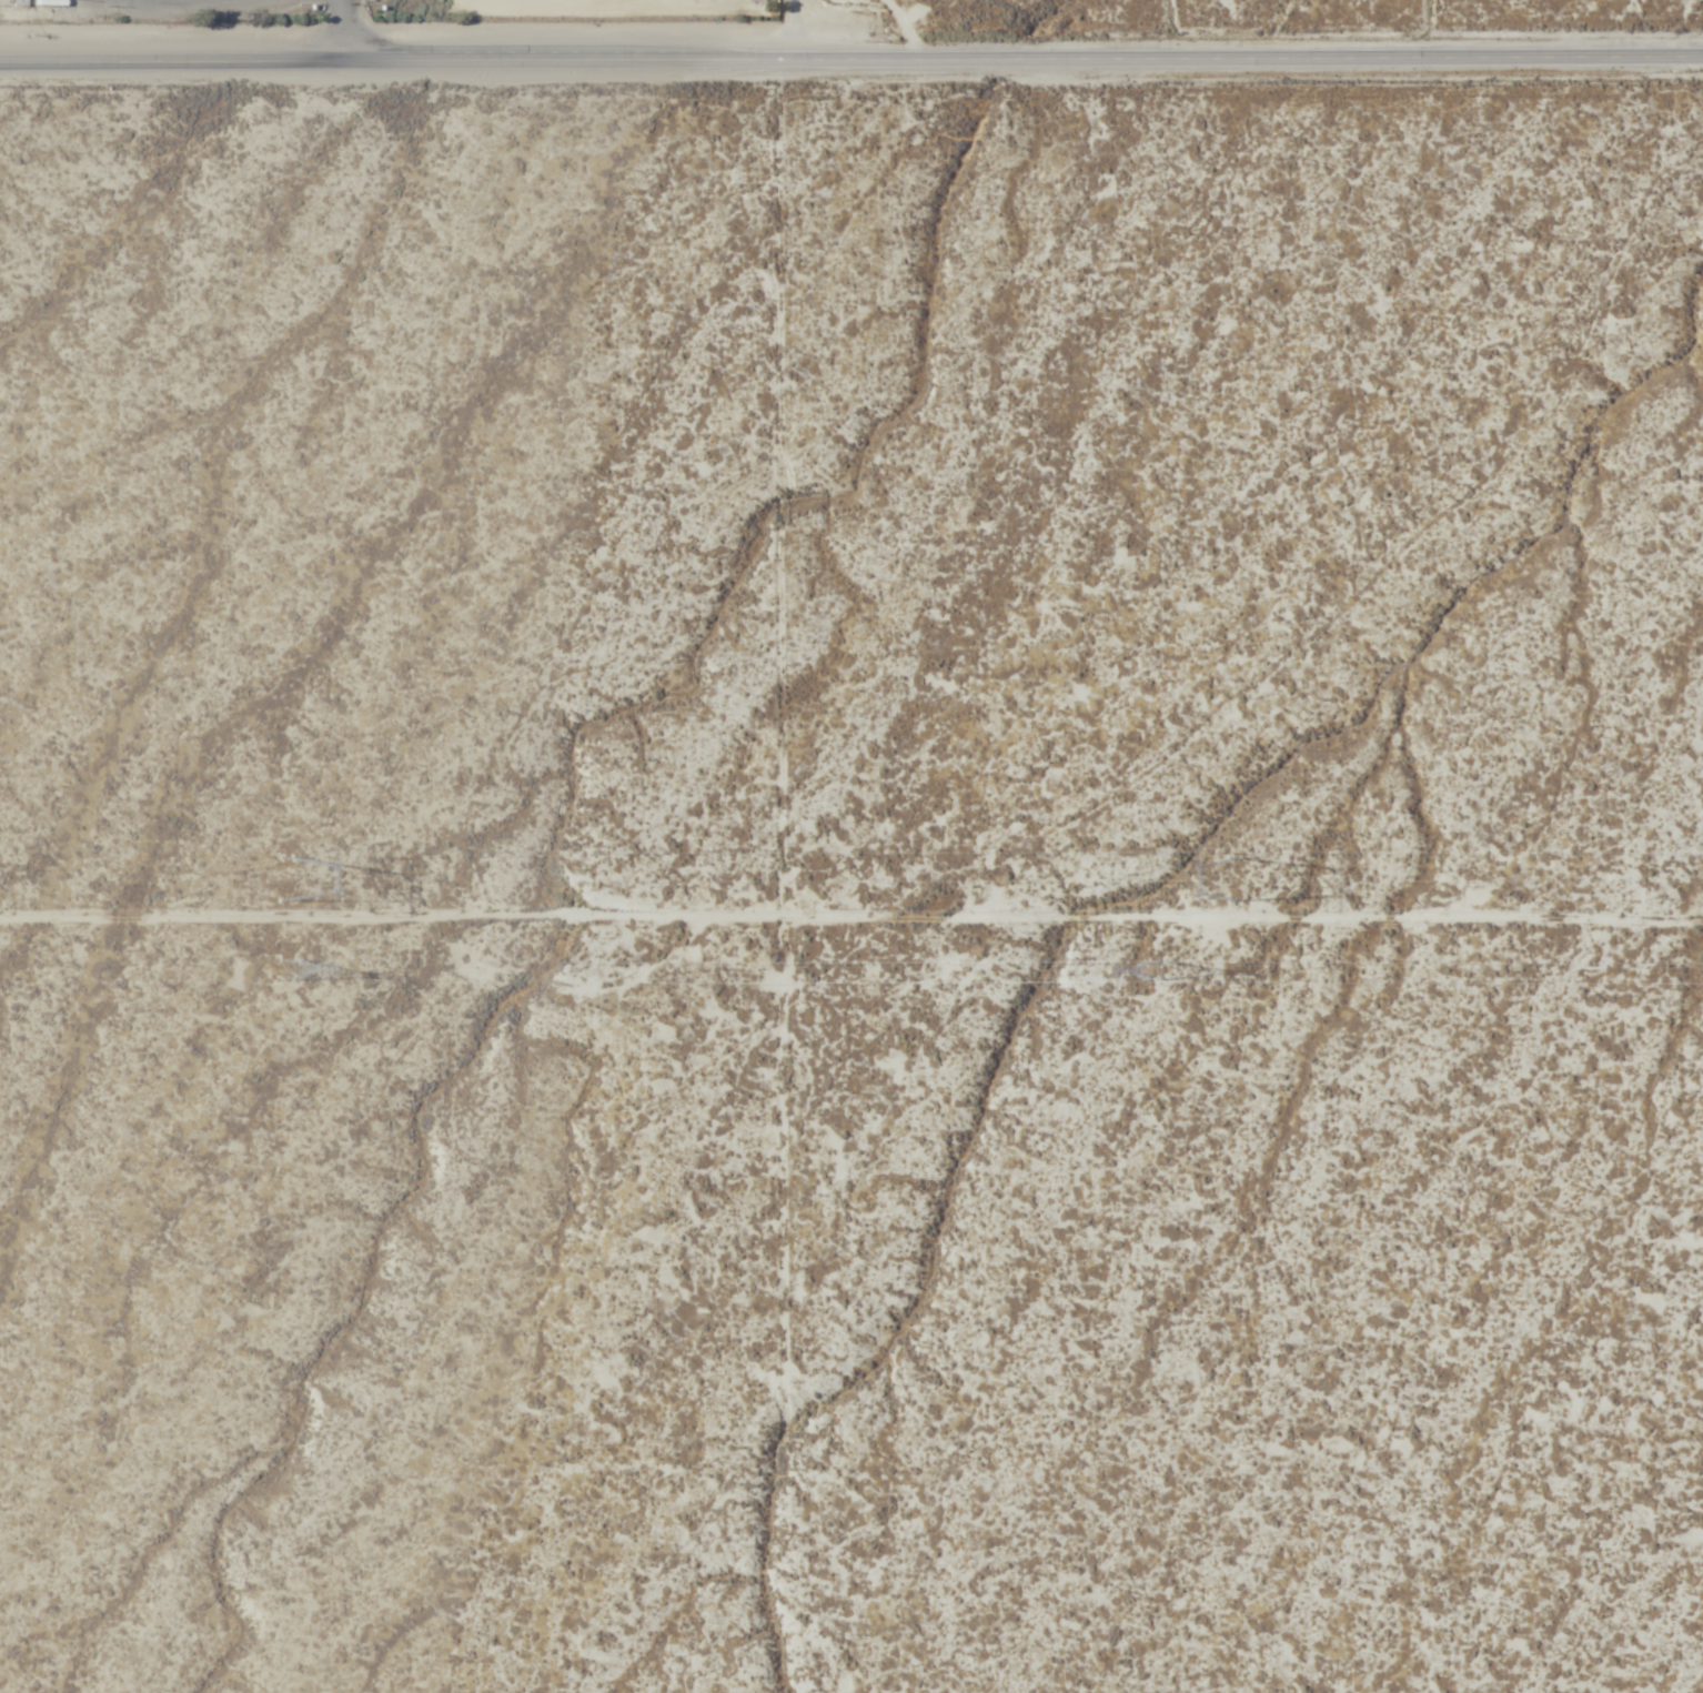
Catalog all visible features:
building: (44, 3)
landfill: (381, 39)
road: (851, 60)
power tower: (1247, 874)
power tower: (294, 879)
power tower: (1152, 963)
power tower: (282, 968)

